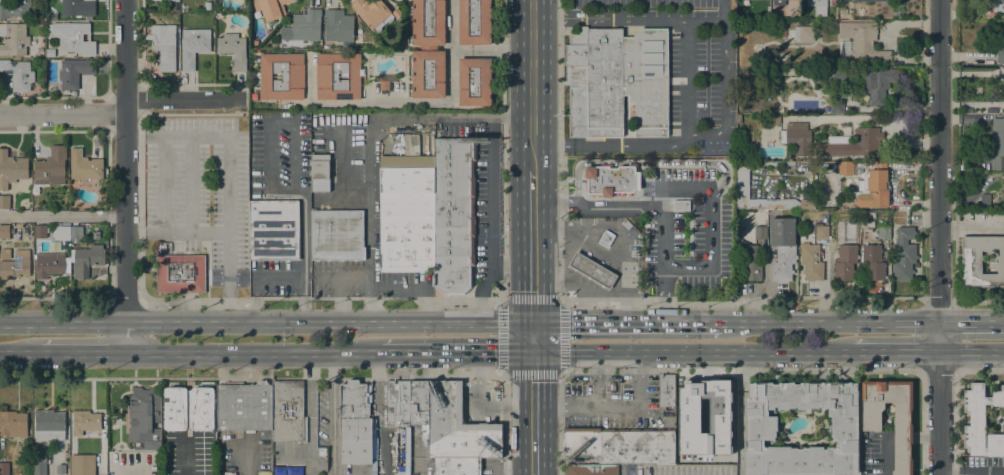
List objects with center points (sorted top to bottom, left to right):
building: (163, 0)
building: (872, 0)
building: (177, 1)
building: (779, 2)
building: (816, 3)
building: (998, 6)
building: (78, 7)
building: (15, 8)
building: (270, 8)
road: (719, 10)
building: (843, 11)
building: (372, 13)
building: (397, 13)
building: (766, 16)
road: (455, 21)
building: (428, 22)
building: (474, 22)
building: (338, 25)
building: (303, 26)
building: (798, 34)
building: (72, 37)
building: (14, 39)
building: (863, 41)
road: (501, 43)
building: (255, 44)
building: (164, 46)
building: (193, 46)
building: (428, 47)
building: (844, 49)
building: (233, 50)
building: (50, 52)
building: (1000, 53)
building: (761, 56)
building: (781, 60)
building: (787, 71)
building: (74, 72)
building: (18, 74)
building: (428, 74)
building: (1003, 74)
building: (281, 76)
building: (337, 76)
building: (839, 77)
road: (726, 78)
building: (617, 81)
road: (687, 81)
building: (474, 82)
building: (878, 84)
building: (386, 85)
road: (532, 87)
road: (406, 97)
road: (185, 99)
building: (834, 106)
road: (62, 113)
road: (498, 116)
building: (775, 119)
road: (268, 124)
road: (134, 134)
road: (152, 134)
building: (797, 138)
building: (854, 144)
building: (997, 144)
road: (125, 161)
road: (646, 163)
building: (52, 165)
building: (84, 165)
building: (845, 168)
building: (11, 169)
building: (319, 173)
road: (367, 176)
building: (612, 179)
building: (742, 180)
road: (162, 182)
road: (190, 182)
building: (873, 188)
road: (230, 196)
building: (1003, 197)
building: (4, 201)
building: (807, 204)
building: (681, 205)
road: (654, 207)
building: (406, 213)
road: (62, 215)
building: (453, 215)
road: (709, 218)
road: (493, 220)
building: (626, 224)
road: (303, 228)
building: (273, 229)
building: (4, 231)
building: (40, 231)
road: (134, 231)
road: (153, 231)
road: (196, 231)
building: (76, 232)
building: (760, 232)
building: (822, 232)
building: (834, 232)
building: (884, 232)
building: (61, 233)
building: (337, 235)
road: (939, 237)
building: (606, 238)
road: (532, 247)
building: (782, 247)
building: (904, 254)
building: (87, 260)
building: (845, 261)
building: (980, 261)
building: (749, 262)
building: (811, 262)
building: (873, 262)
building: (49, 264)
building: (15, 265)
building: (592, 270)
building: (180, 273)
road: (512, 273)
road: (342, 276)
road: (259, 278)
road: (414, 285)
road: (303, 296)
road: (743, 296)
road: (56, 299)
road: (340, 299)
road: (320, 300)
road: (125, 301)
road: (938, 302)
road: (978, 302)
road: (503, 304)
traffic signals: (532, 321)
road: (625, 321)
road: (328, 322)
road: (830, 322)
road: (972, 322)
road: (62, 323)
road: (532, 336)
road: (125, 337)
road: (20, 351)
road: (83, 351)
road: (457, 351)
traffic signals: (533, 351)
road: (692, 351)
road: (896, 351)
road: (972, 351)
road: (253, 352)
road: (743, 370)
road: (938, 370)
road: (979, 370)
road: (303, 375)
road: (639, 378)
building: (666, 390)
building: (397, 401)
building: (419, 405)
building: (244, 406)
road: (586, 406)
building: (188, 408)
building: (288, 412)
road: (332, 413)
road: (533, 413)
road: (740, 413)
building: (704, 417)
building: (144, 418)
building: (87, 421)
building: (981, 421)
building: (355, 422)
building: (13, 424)
building: (762, 424)
building: (49, 425)
building: (457, 427)
building: (871, 427)
building: (620, 445)
building: (39, 460)
building: (82, 464)
building: (457, 466)
building: (4, 468)
building: (61, 469)
building: (591, 470)
road: (972, 472)

